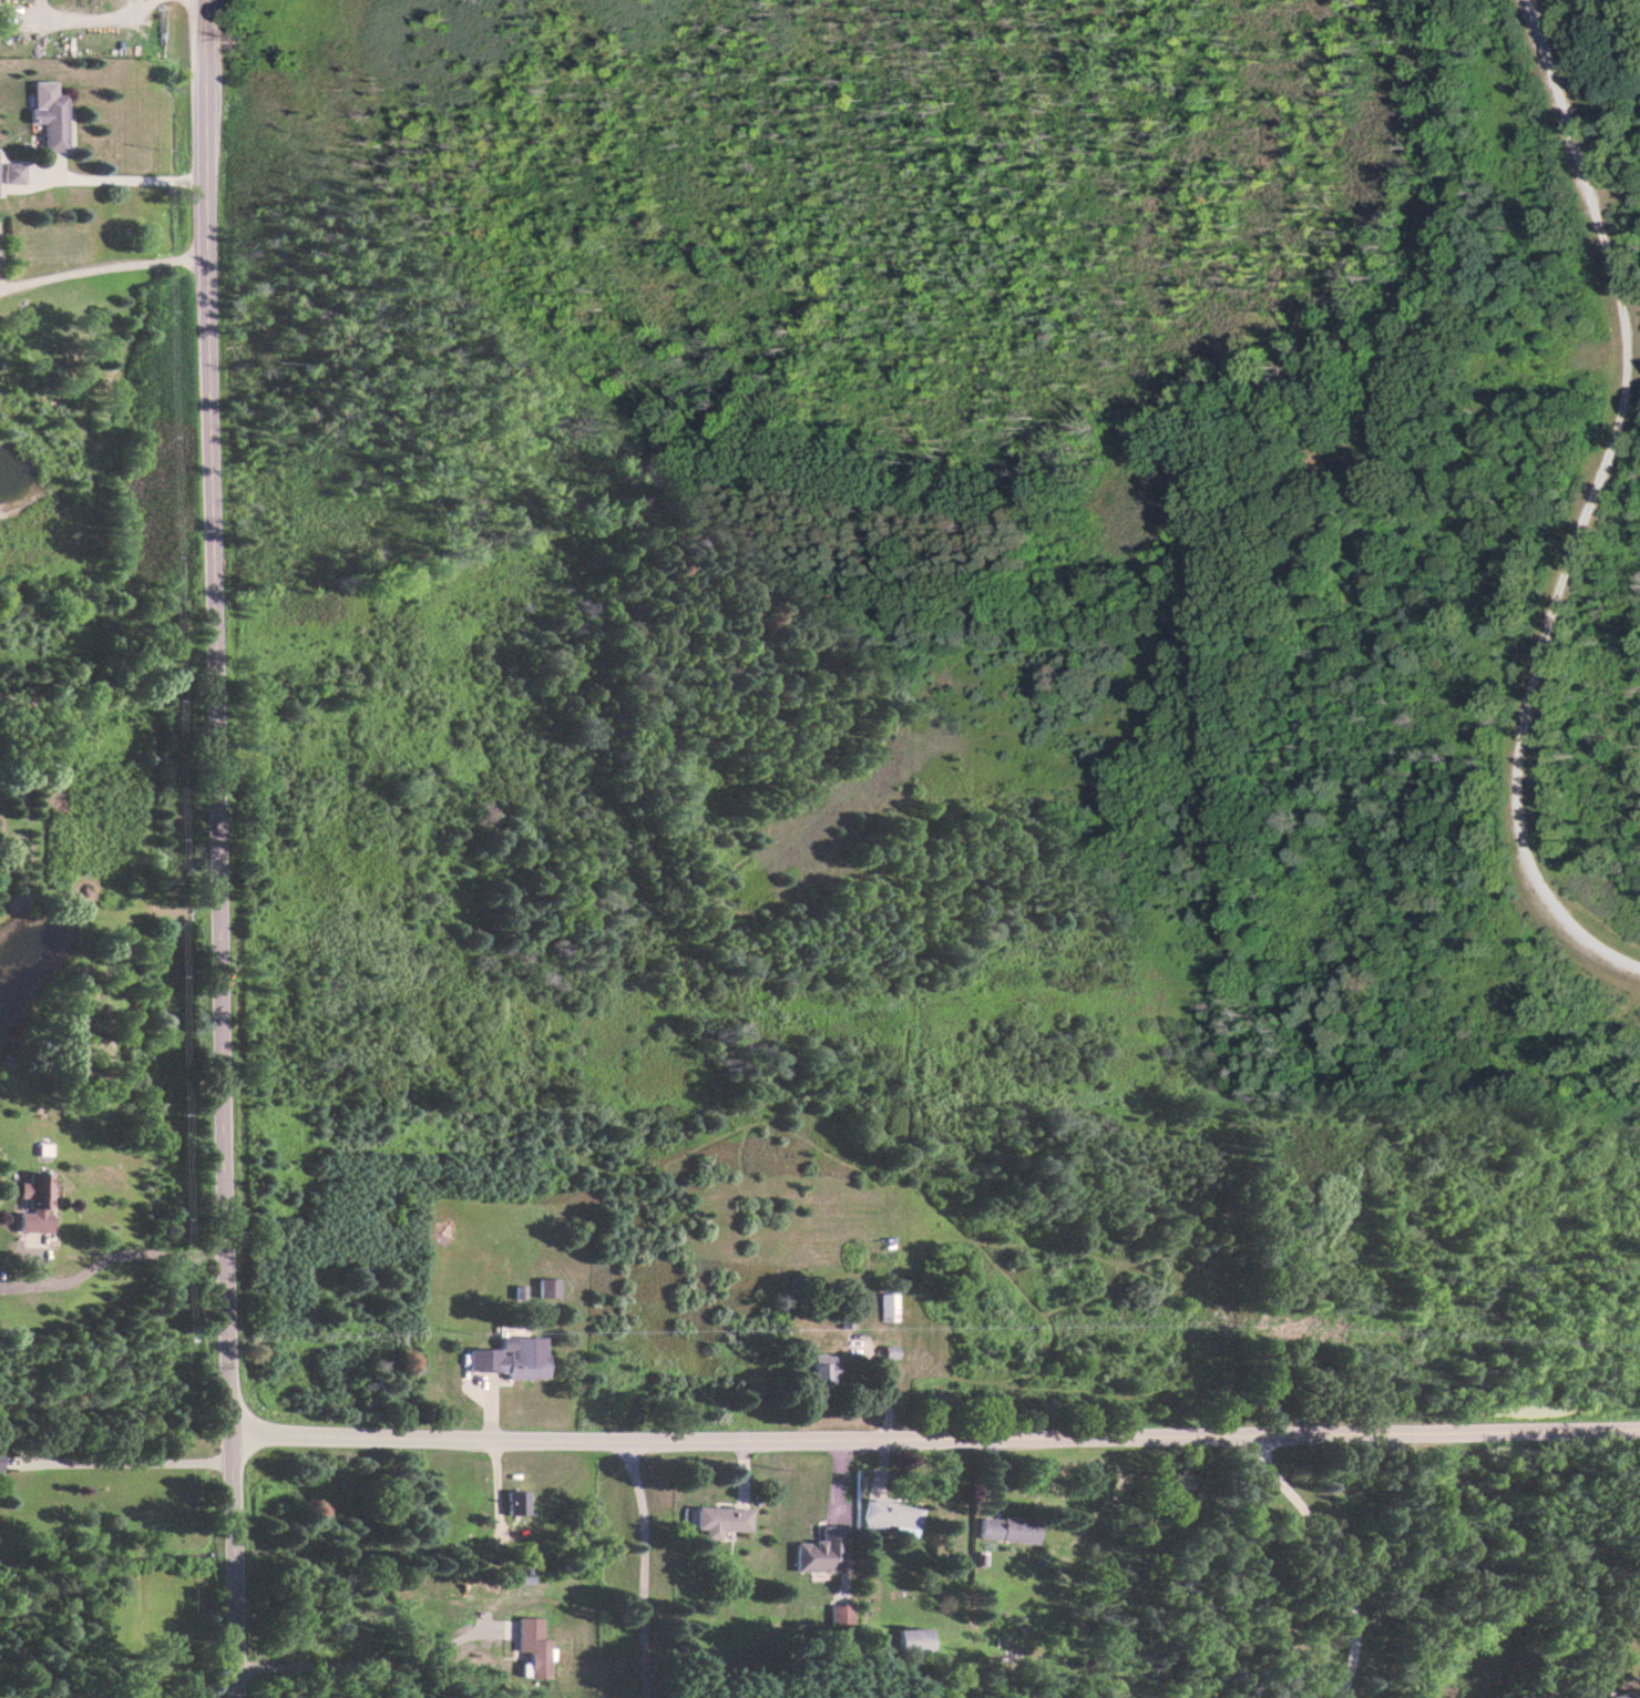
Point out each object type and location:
building: (48, 114)
building: (10, 173)
road: (121, 177)
road: (1585, 507)
road: (213, 849)
building: (32, 1203)
road: (123, 1254)
building: (544, 1287)
building: (885, 1306)
building: (508, 1358)
building: (818, 1368)
road: (932, 1430)
road: (123, 1462)
building: (512, 1502)
building: (885, 1514)
building: (717, 1520)
building: (1003, 1530)
building: (816, 1552)
road: (1325, 1554)
road: (640, 1562)
building: (836, 1613)
building: (909, 1640)
building: (530, 1646)
building: (1622, 1695)

